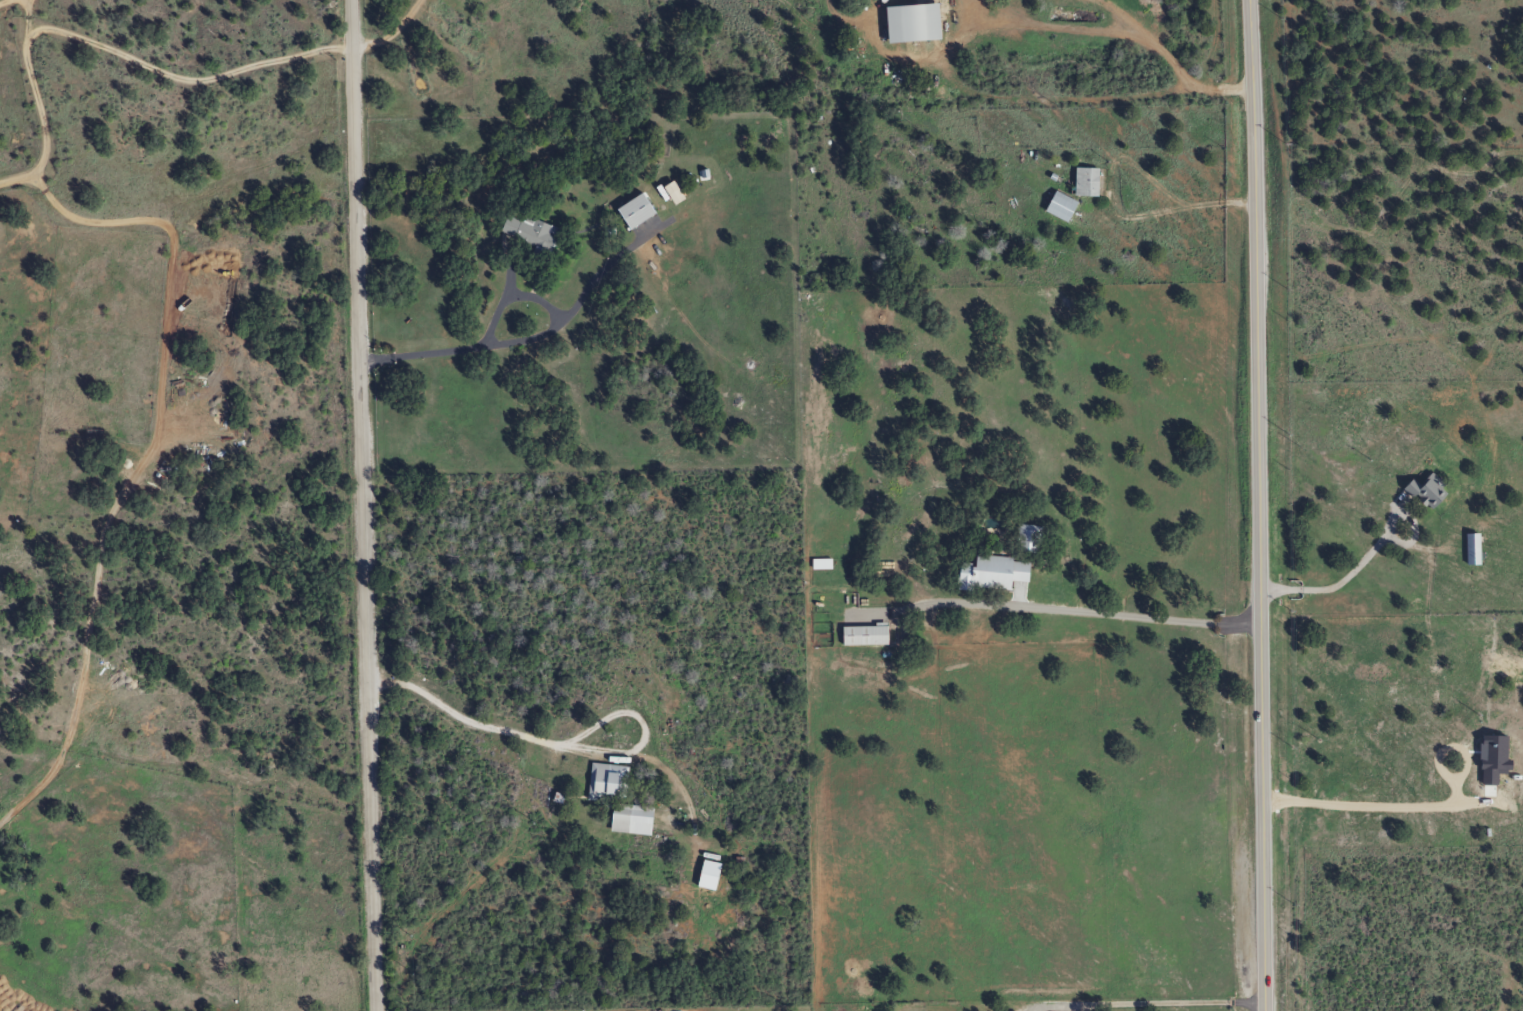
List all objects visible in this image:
building: (907, 24)
road: (107, 49)
building: (1083, 182)
building: (1058, 208)
building: (632, 212)
building: (529, 234)
building: (90, 434)
building: (1424, 493)
road: (362, 505)
road: (1257, 505)
building: (1023, 540)
building: (1468, 550)
building: (819, 564)
building: (987, 575)
road: (1077, 614)
building: (862, 636)
building: (604, 794)

